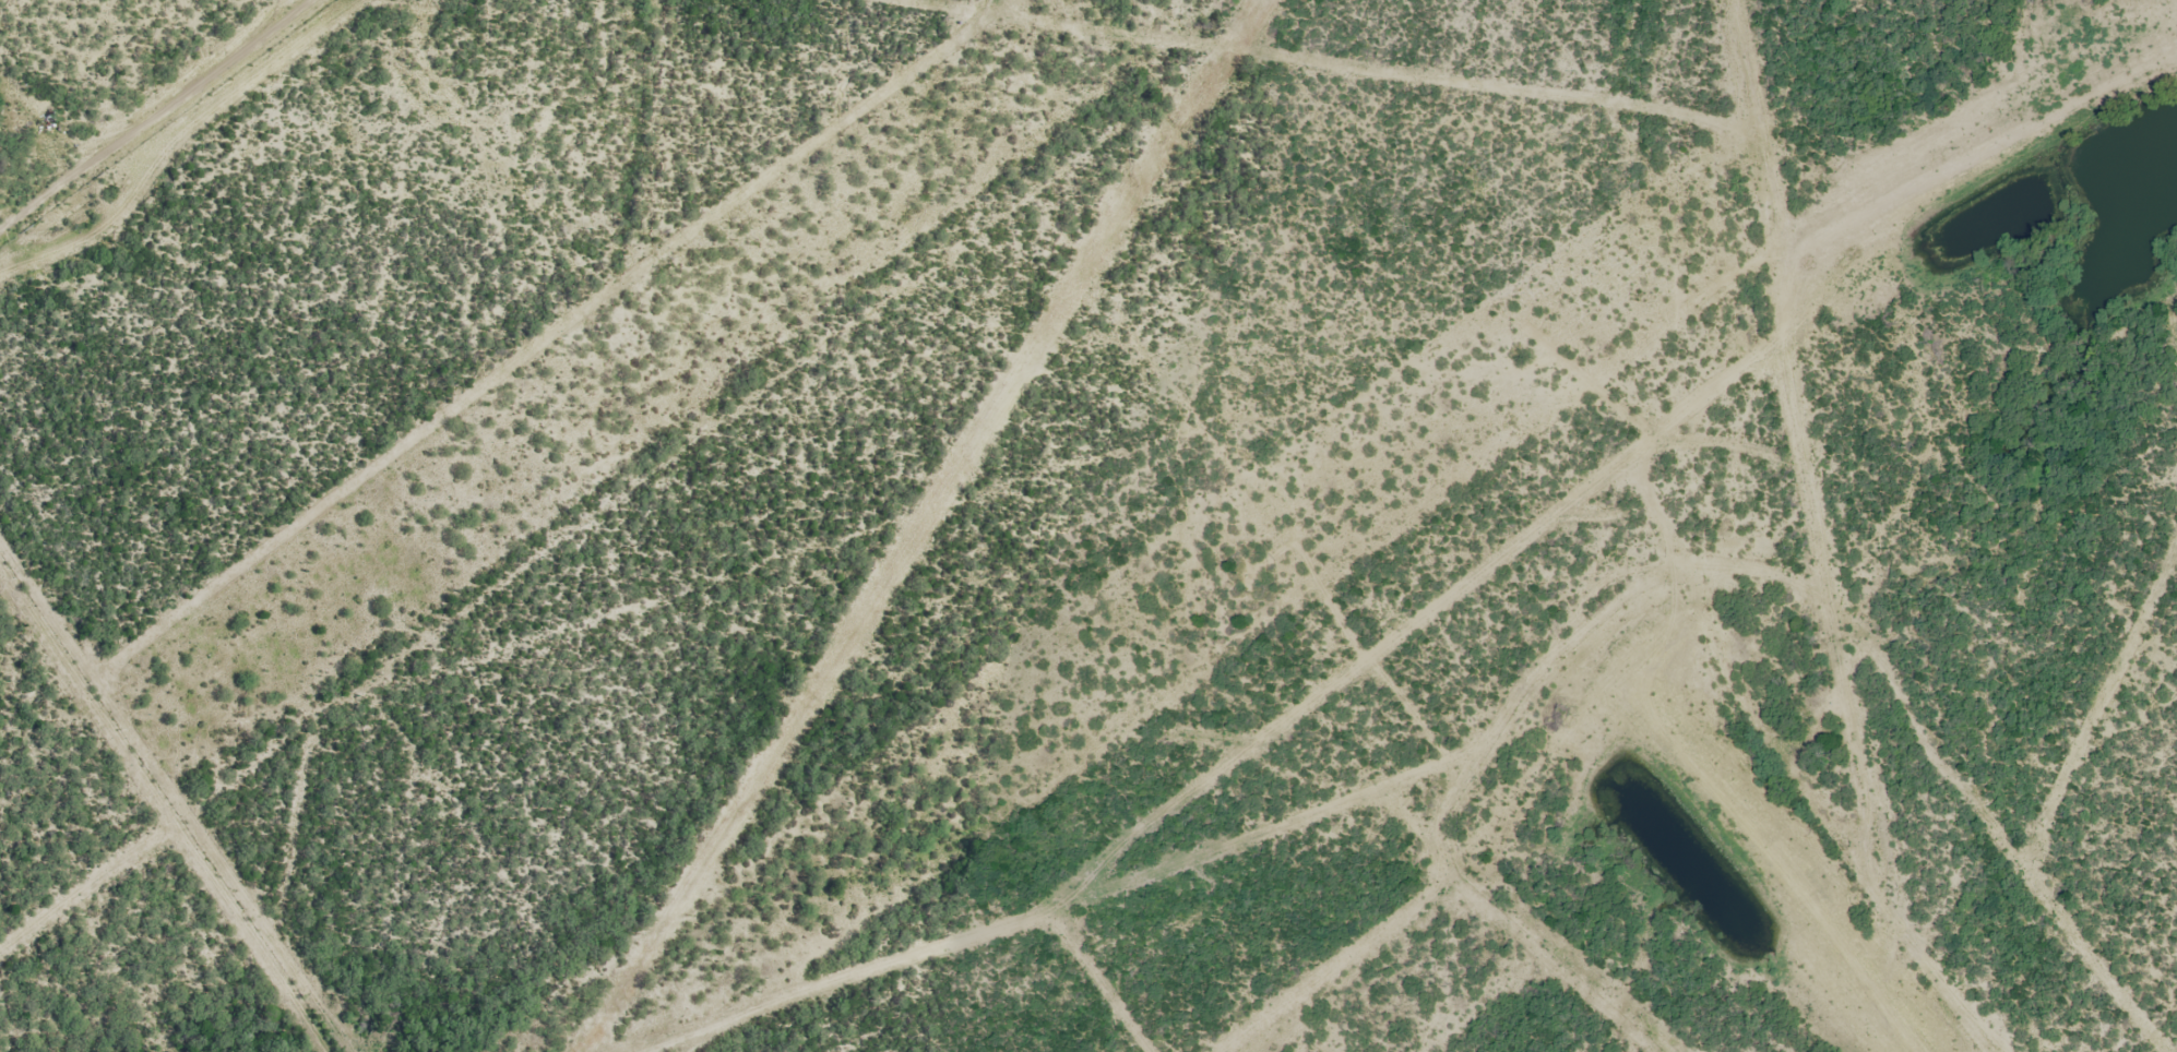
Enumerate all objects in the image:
road: (1841, 536)

